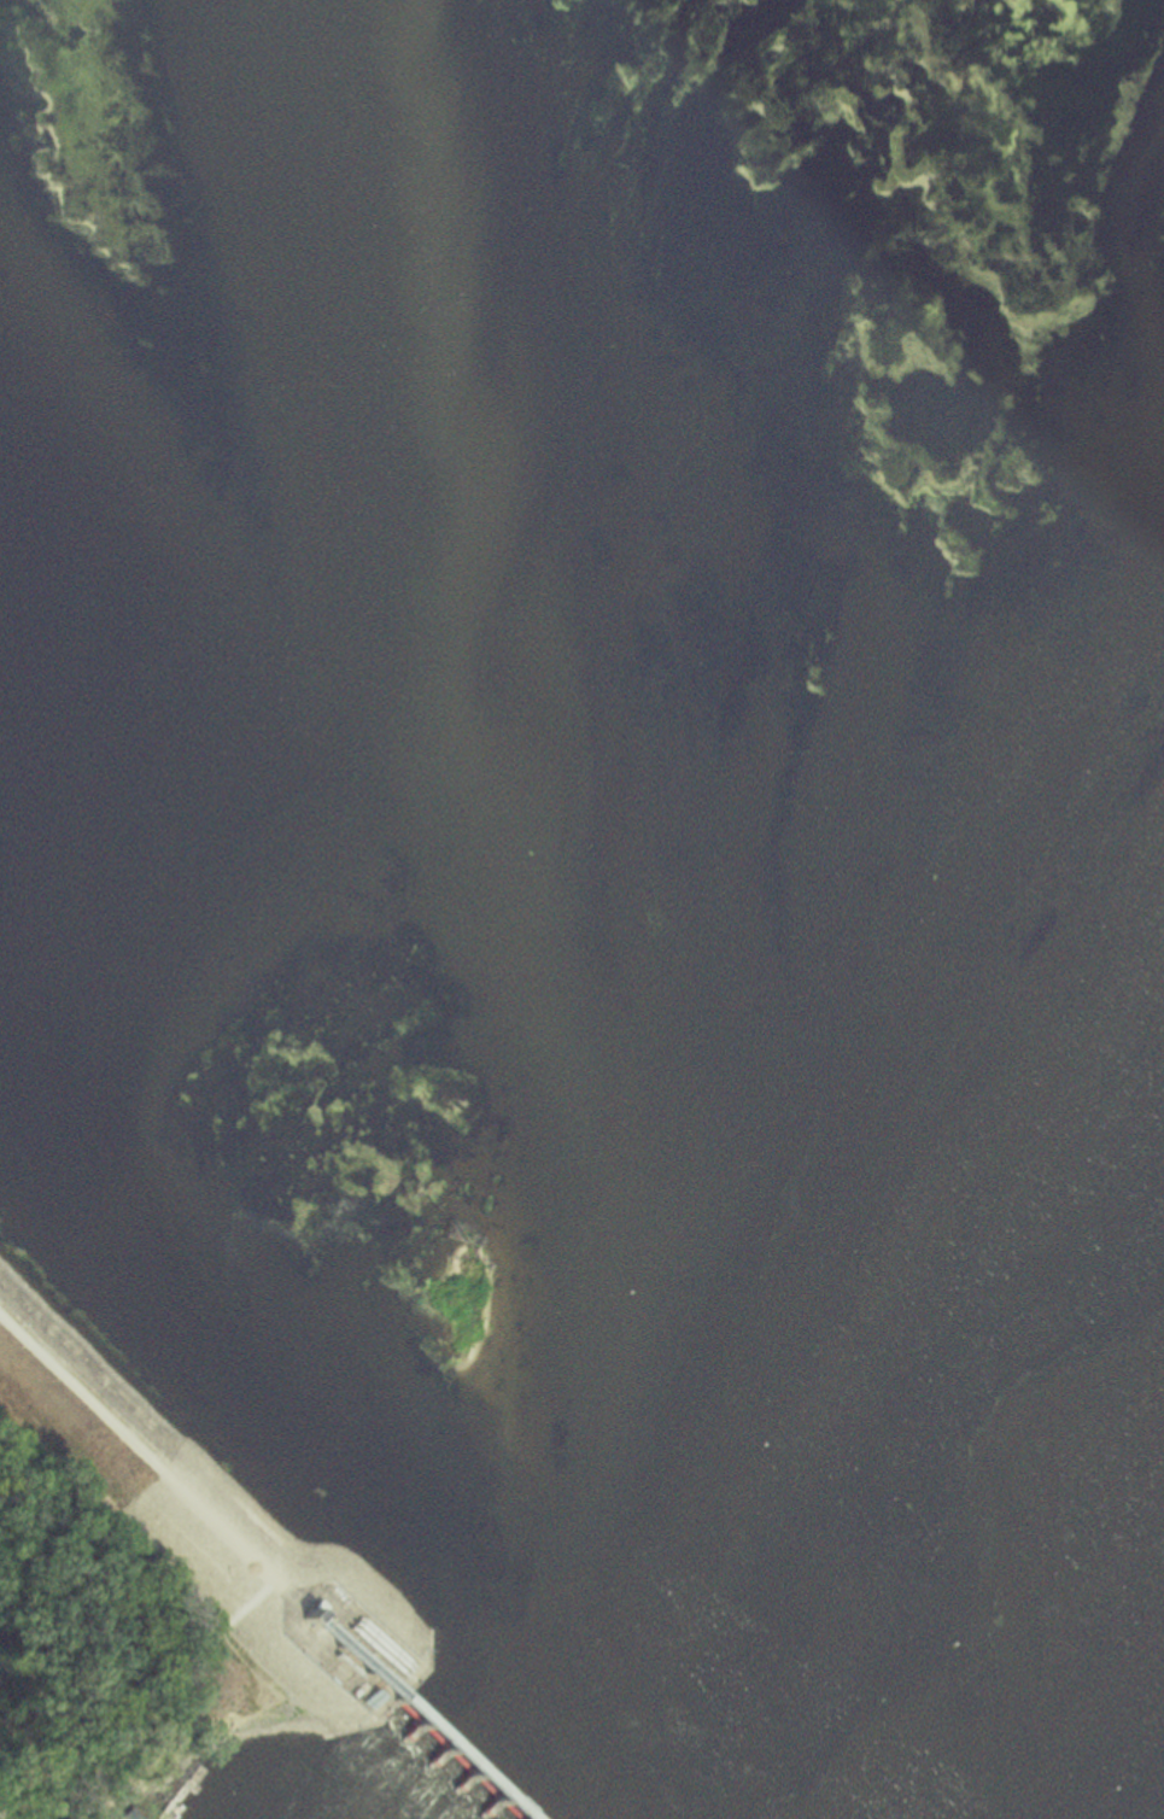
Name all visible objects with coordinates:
dam: (193, 1519)
building: (304, 1613)
building: (128, 1815)

